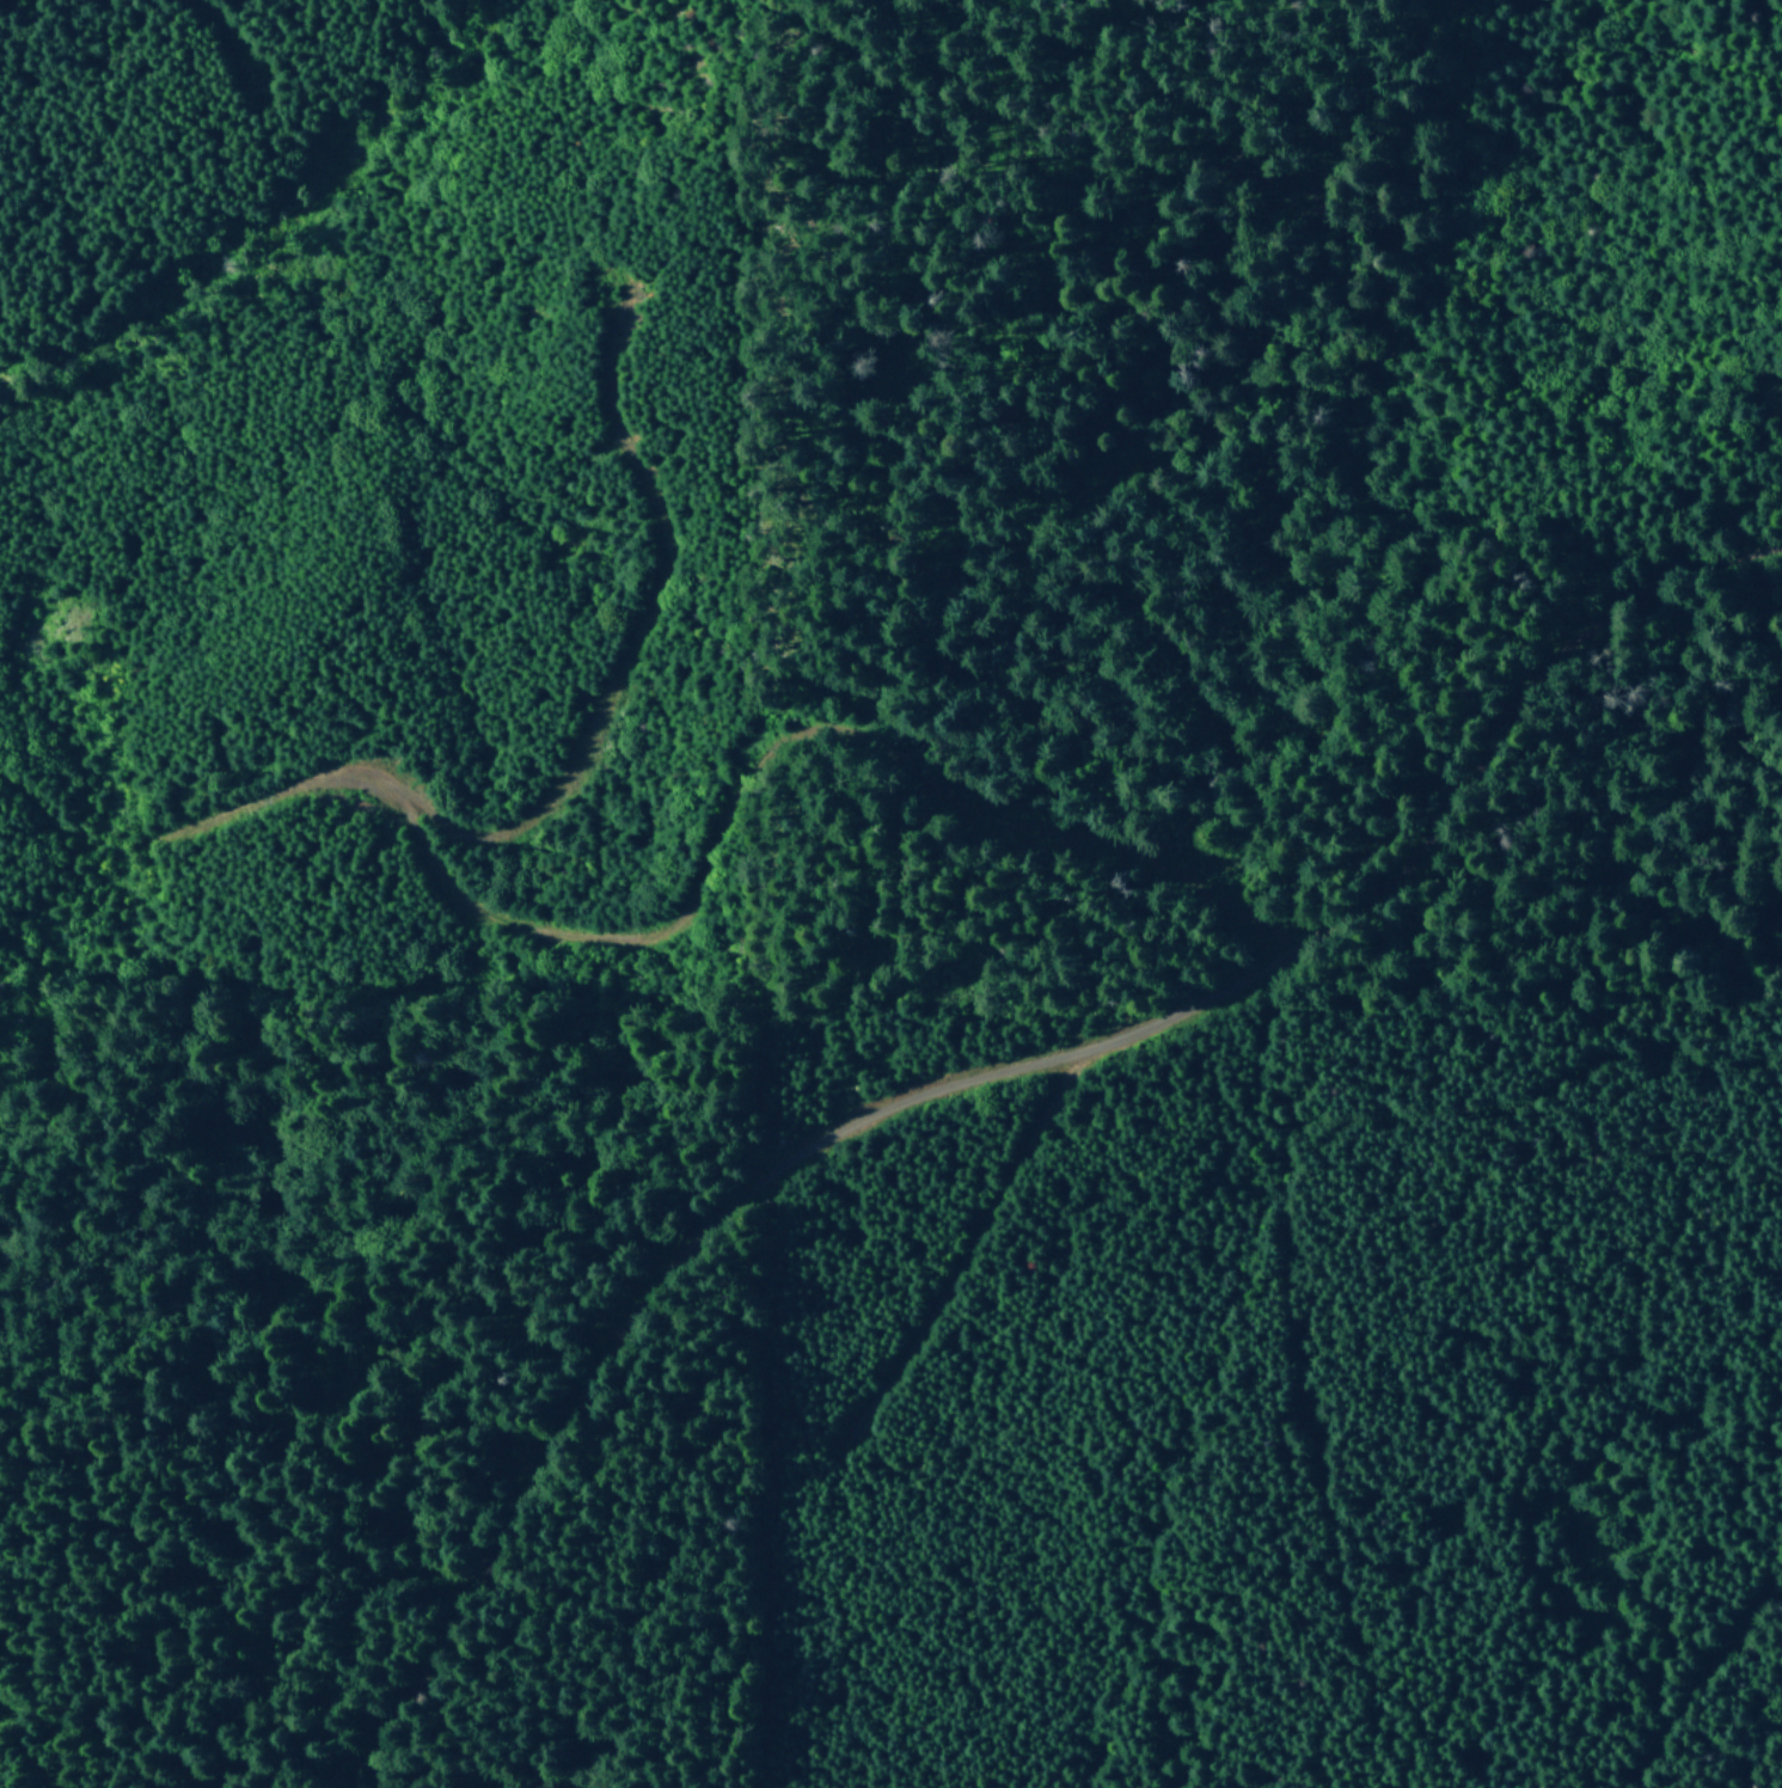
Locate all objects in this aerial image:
road: (755, 878)

